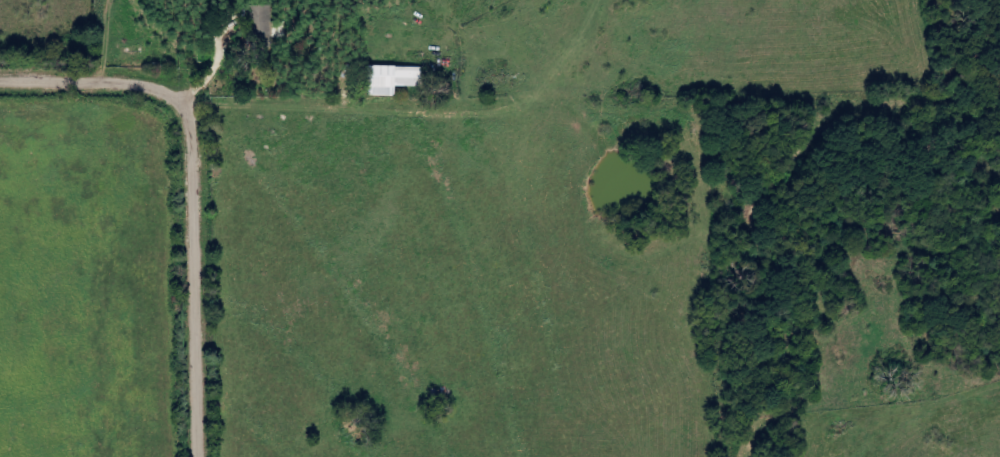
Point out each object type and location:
building: (264, 26)
airport runway: (581, 36)
building: (393, 79)
road: (201, 183)

